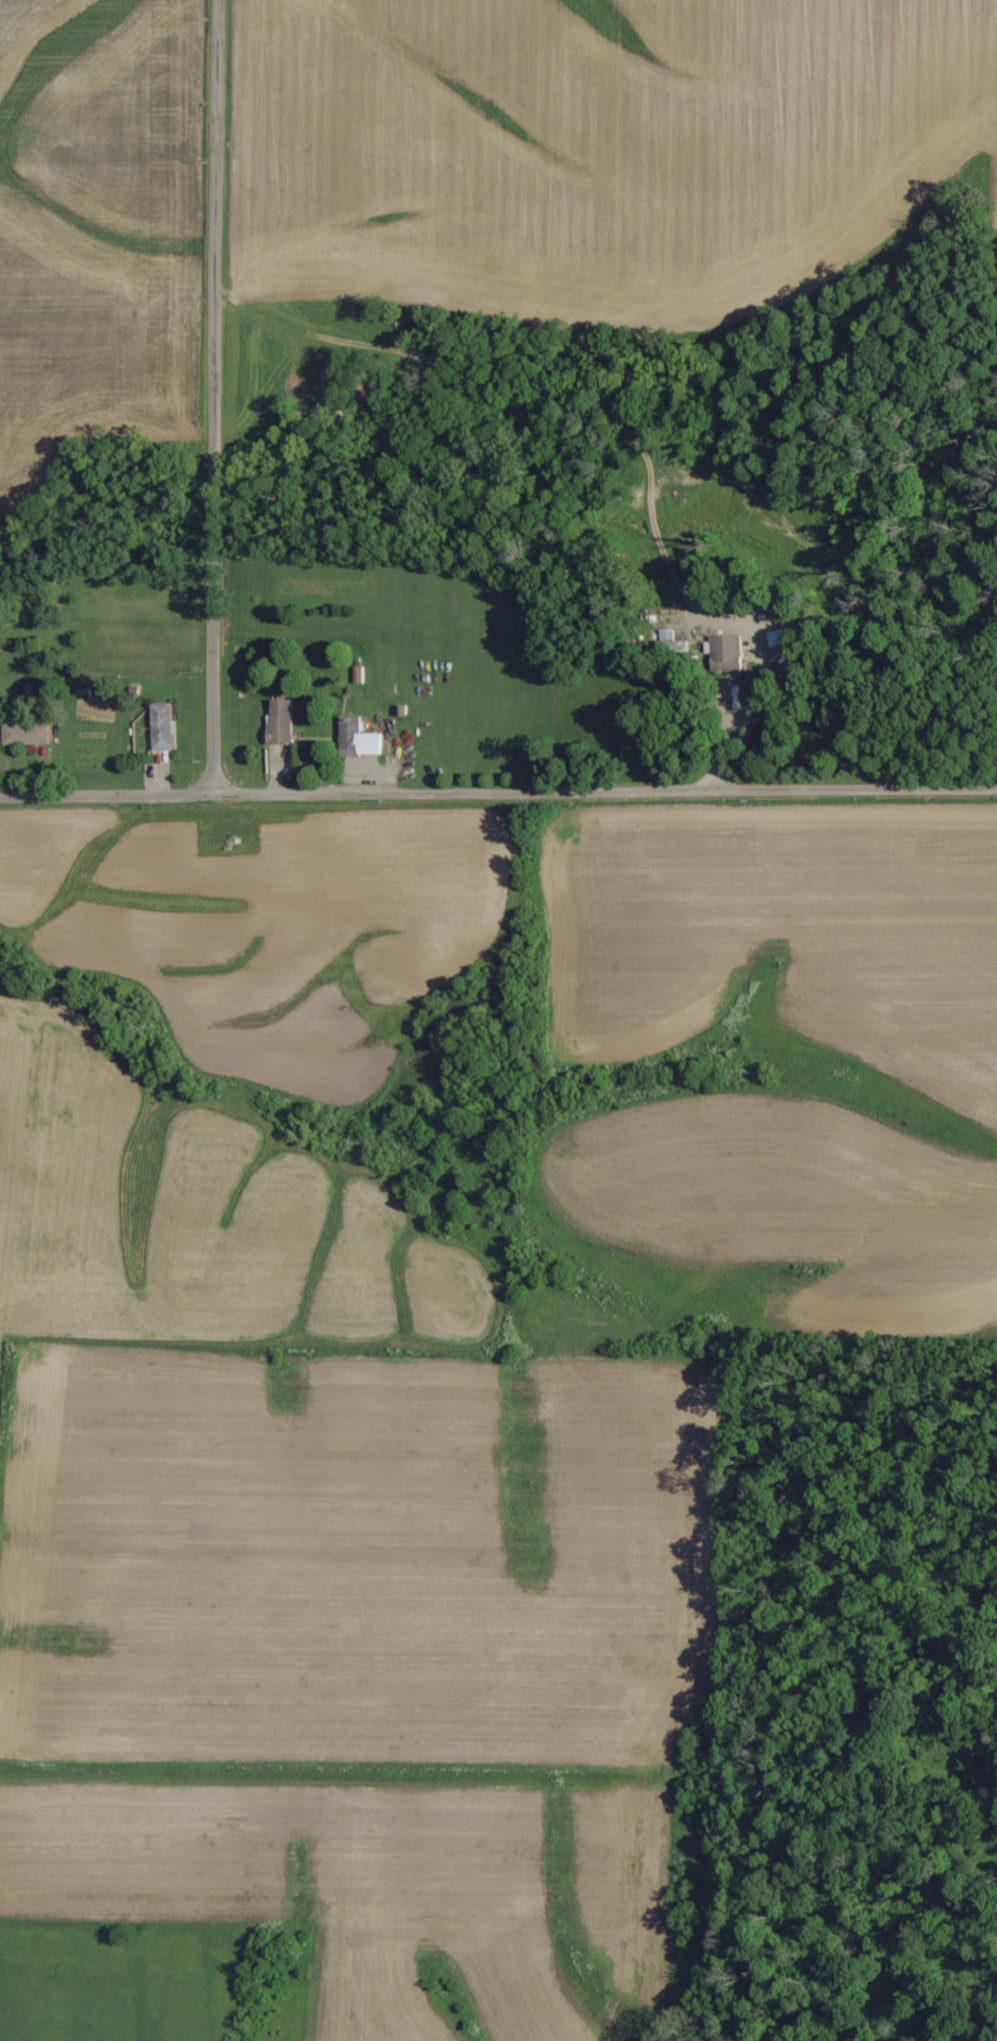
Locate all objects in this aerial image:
road: (214, 394)
building: (784, 652)
building: (726, 653)
building: (282, 722)
building: (164, 727)
building: (27, 734)
building: (359, 737)
road: (498, 786)

